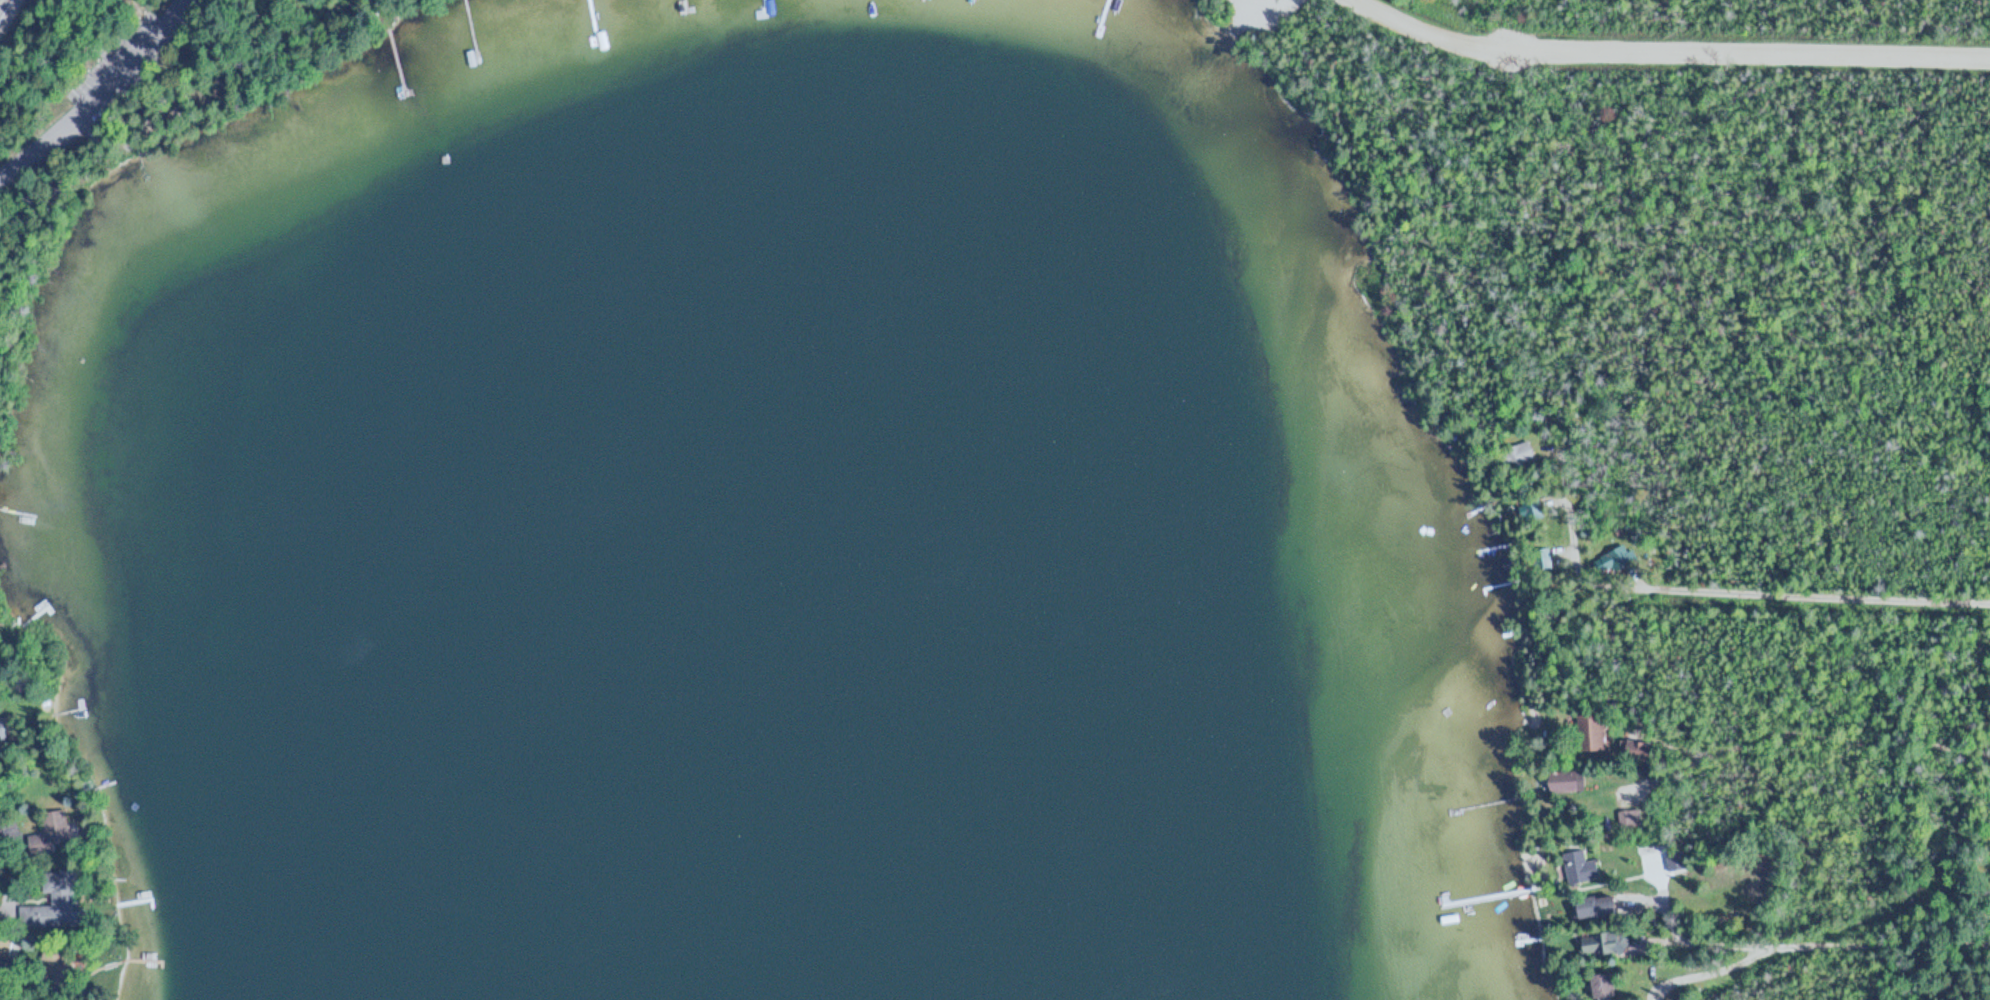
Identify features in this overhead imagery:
road: (0, 0)
parking lot: (1252, 13)
road: (1268, 14)
road: (1236, 31)
road: (1668, 49)
parking lot: (120, 65)
road: (103, 97)
building: (1522, 453)
road: (1564, 474)
building: (1531, 512)
road: (1793, 597)
building: (4, 733)
road: (1808, 738)
building: (1570, 781)
building: (53, 833)
building: (1675, 862)
building: (1583, 871)
building: (55, 901)
building: (1603, 907)
building: (6, 942)
building: (1608, 944)
road: (1840, 945)
building: (60, 963)
building: (1607, 985)

